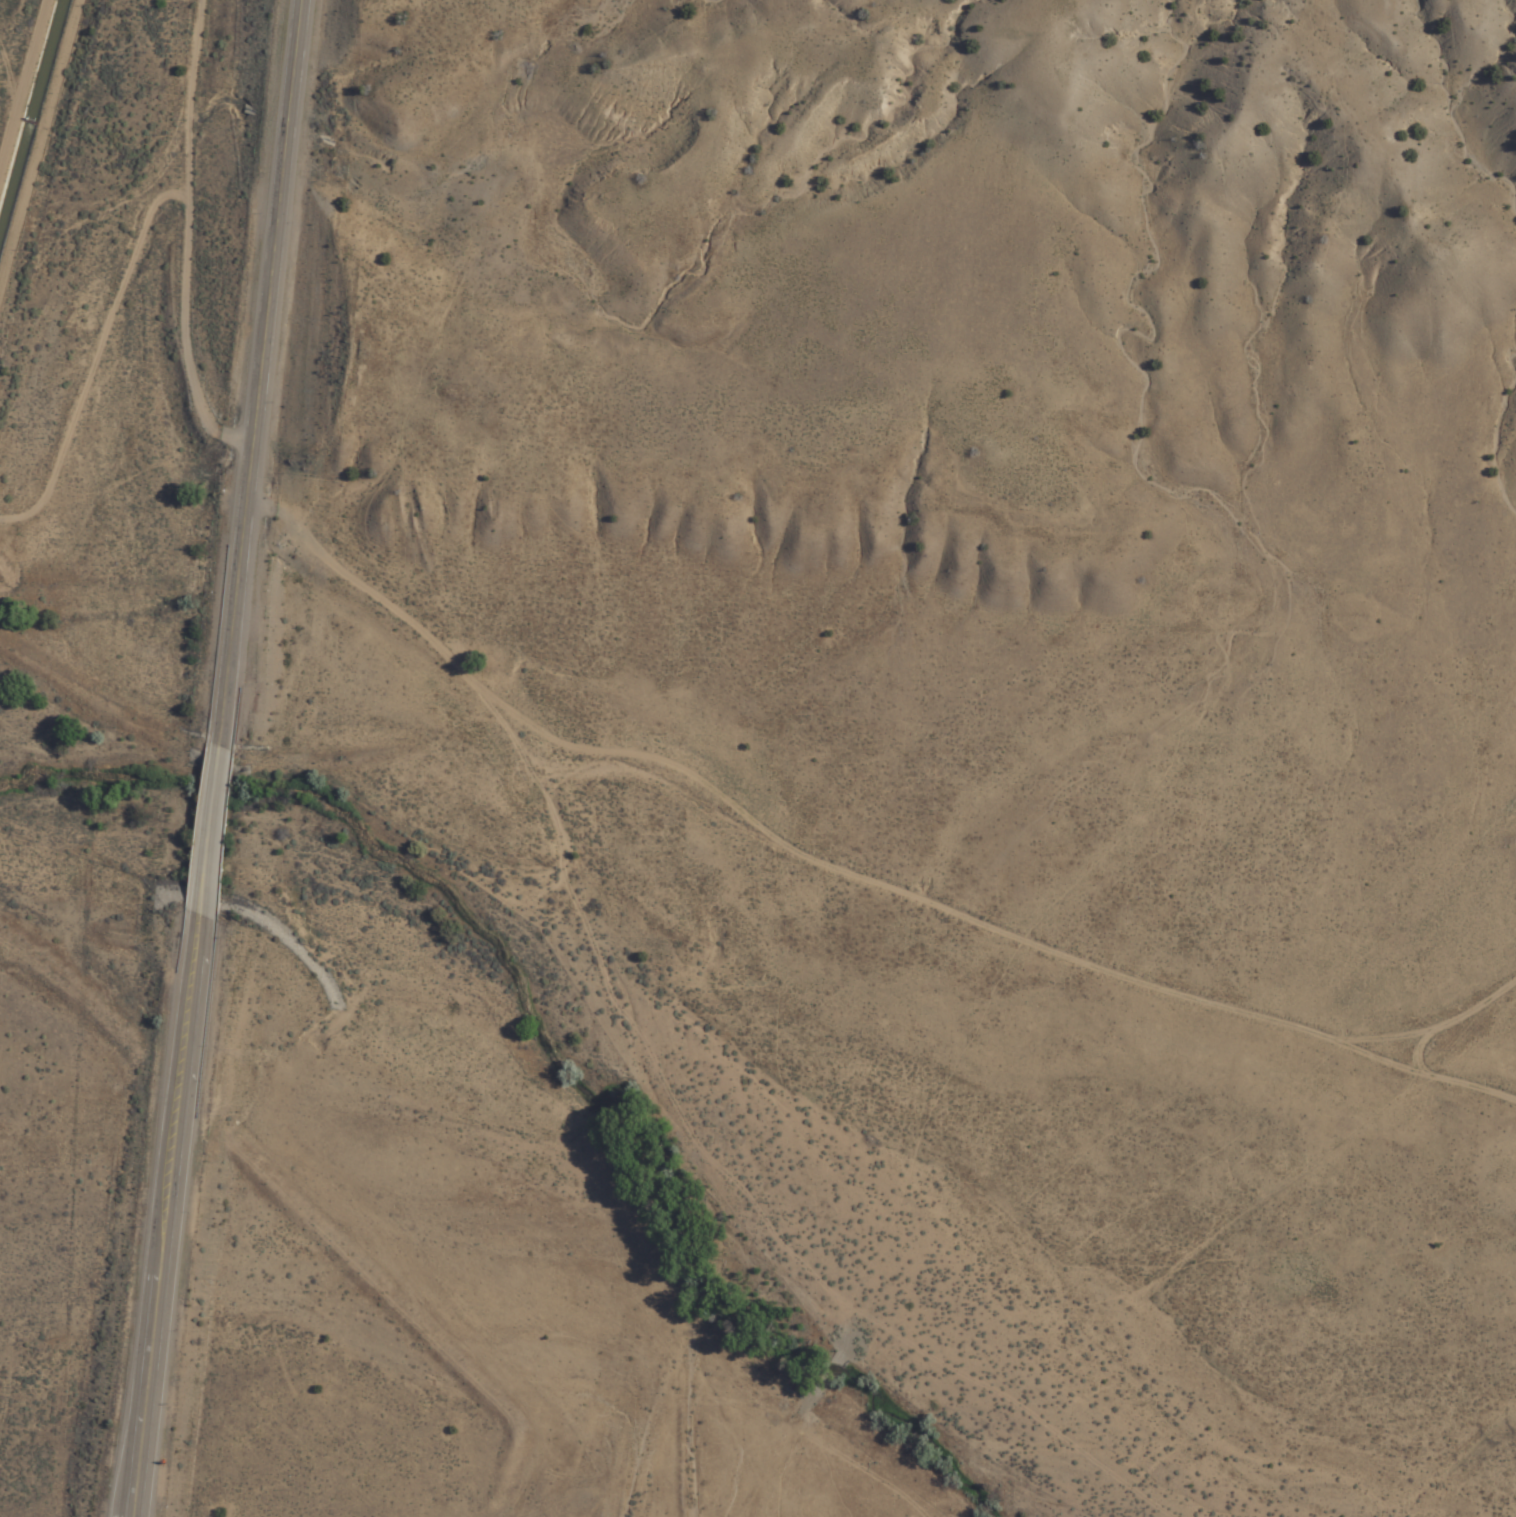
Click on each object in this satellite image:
road: (258, 372)
road: (576, 805)
road: (210, 830)
river: (554, 1026)
road: (167, 1216)

